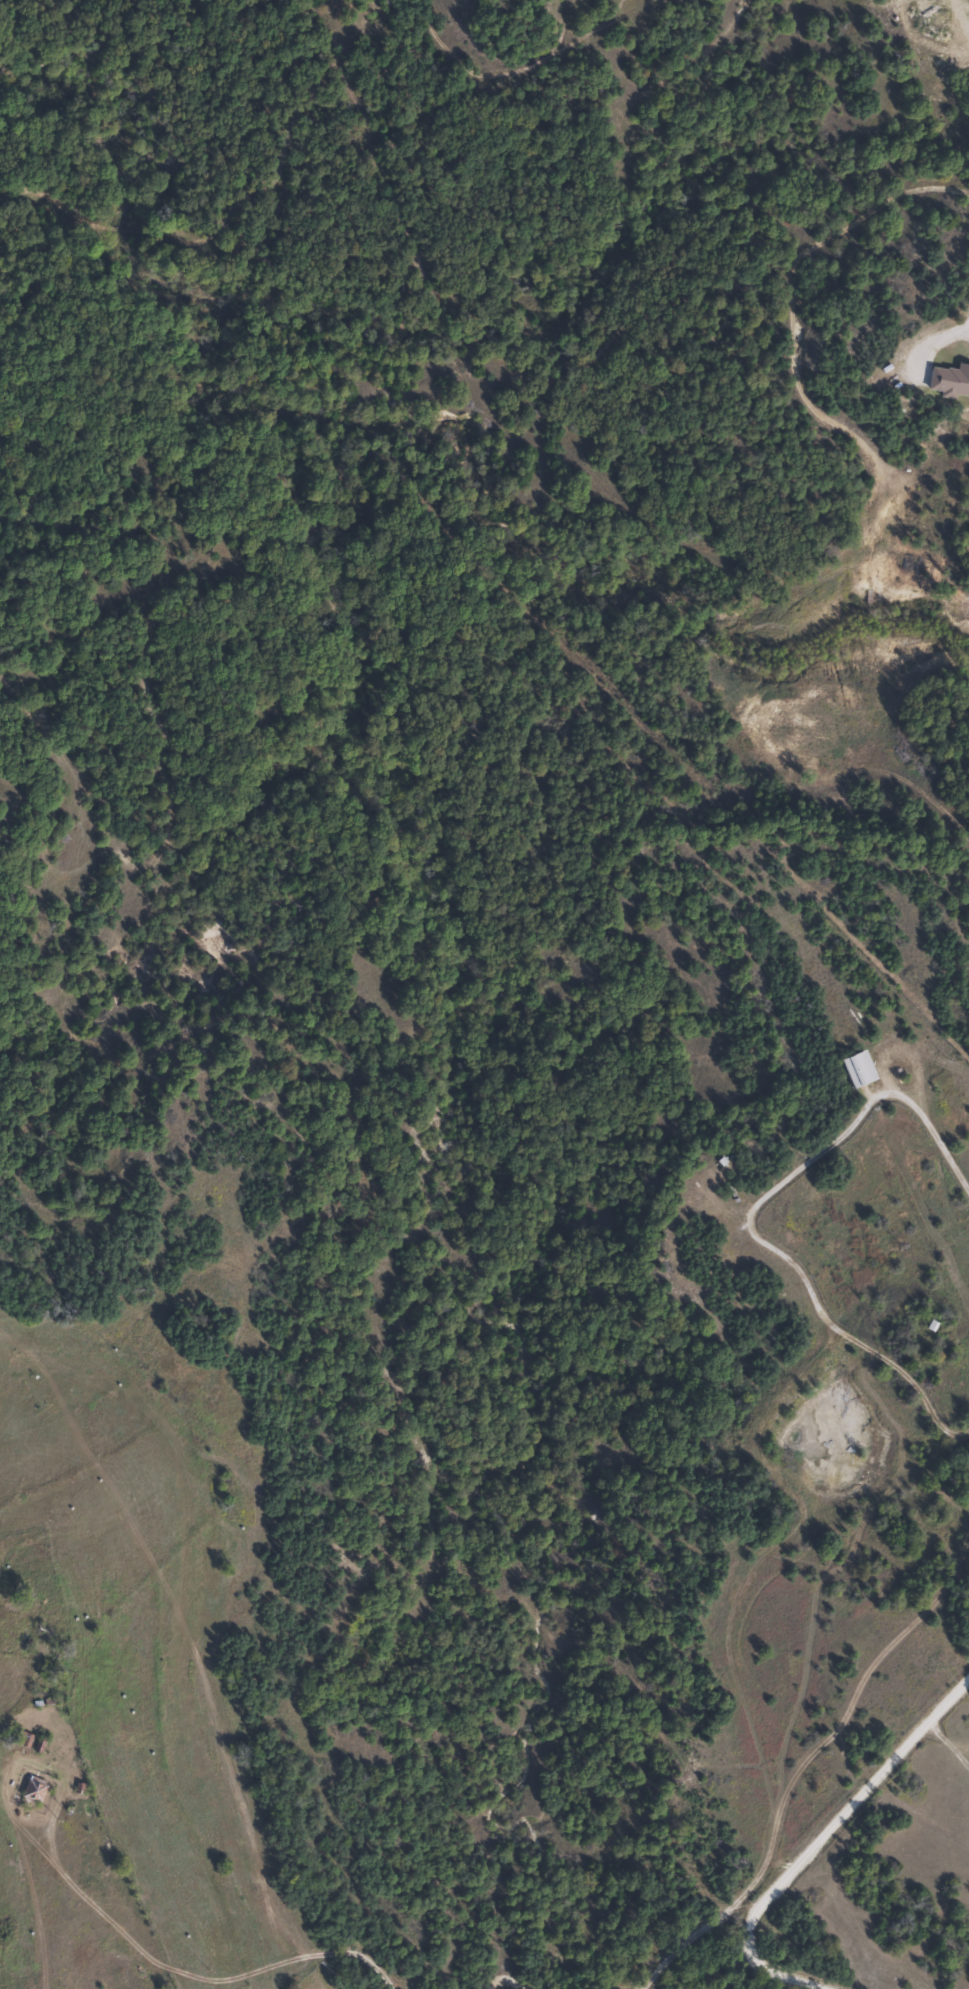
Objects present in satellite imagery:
building: (858, 1068)
building: (33, 1790)
road: (807, 1840)
road: (54, 1854)

